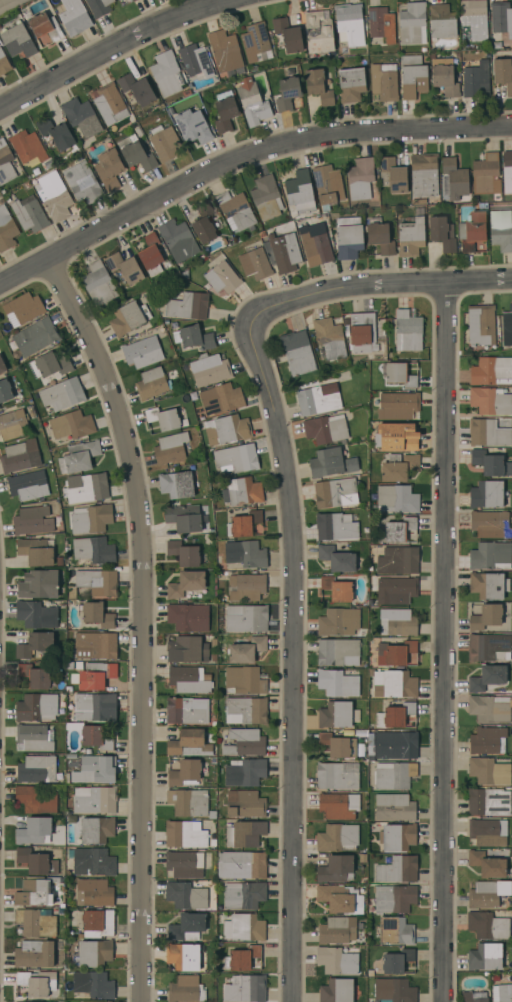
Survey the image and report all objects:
building: (134, 0)
building: (99, 7)
building: (74, 17)
building: (501, 18)
building: (473, 20)
building: (441, 21)
building: (349, 24)
building: (381, 24)
building: (412, 24)
building: (42, 27)
building: (318, 32)
building: (288, 35)
building: (18, 41)
building: (254, 41)
road: (116, 47)
building: (225, 50)
building: (195, 61)
building: (4, 63)
building: (165, 73)
building: (503, 73)
building: (412, 76)
building: (444, 77)
building: (476, 80)
building: (383, 82)
building: (351, 84)
building: (318, 87)
building: (137, 89)
building: (287, 93)
building: (252, 102)
building: (110, 104)
building: (224, 111)
building: (81, 117)
building: (192, 126)
building: (55, 133)
building: (164, 142)
building: (27, 146)
building: (136, 155)
road: (241, 161)
building: (5, 164)
building: (109, 169)
building: (507, 171)
building: (486, 174)
building: (392, 175)
building: (424, 175)
building: (455, 179)
building: (360, 180)
building: (82, 183)
building: (328, 185)
building: (300, 192)
building: (54, 196)
building: (266, 198)
building: (236, 210)
building: (29, 214)
building: (204, 223)
building: (6, 230)
building: (501, 230)
building: (472, 231)
building: (442, 233)
building: (379, 236)
building: (349, 237)
building: (411, 237)
building: (314, 239)
building: (178, 240)
building: (282, 252)
building: (150, 256)
building: (255, 264)
building: (124, 268)
building: (222, 278)
building: (97, 283)
road: (363, 286)
building: (186, 305)
building: (509, 307)
building: (22, 309)
building: (128, 318)
building: (481, 325)
building: (507, 329)
building: (407, 331)
building: (363, 335)
building: (35, 337)
building: (196, 338)
building: (329, 338)
building: (142, 352)
building: (297, 352)
building: (49, 365)
building: (2, 366)
building: (209, 370)
building: (491, 371)
building: (398, 375)
building: (151, 383)
building: (5, 391)
building: (62, 393)
building: (318, 398)
building: (220, 399)
building: (489, 401)
building: (397, 406)
building: (163, 418)
building: (13, 425)
building: (71, 425)
building: (326, 429)
building: (228, 430)
building: (487, 433)
building: (398, 437)
building: (170, 448)
building: (18, 457)
building: (78, 457)
building: (236, 459)
building: (331, 463)
building: (490, 463)
building: (398, 467)
building: (28, 485)
building: (176, 485)
building: (85, 488)
building: (242, 491)
building: (335, 493)
building: (486, 494)
building: (396, 499)
building: (91, 519)
building: (184, 519)
building: (32, 521)
building: (242, 524)
building: (490, 524)
building: (336, 526)
building: (398, 530)
building: (93, 550)
building: (36, 551)
building: (184, 554)
building: (245, 554)
building: (490, 556)
building: (336, 559)
building: (59, 561)
building: (397, 561)
building: (95, 583)
building: (185, 583)
building: (38, 584)
building: (488, 585)
building: (246, 587)
building: (336, 589)
building: (397, 590)
building: (36, 615)
building: (98, 615)
building: (188, 617)
building: (486, 617)
building: (246, 618)
building: (338, 622)
building: (397, 622)
road: (142, 623)
road: (446, 642)
building: (34, 644)
building: (213, 644)
building: (93, 646)
building: (488, 647)
building: (187, 649)
building: (246, 650)
building: (337, 652)
building: (394, 653)
building: (213, 656)
road: (290, 670)
building: (94, 676)
building: (32, 677)
building: (488, 678)
building: (187, 680)
building: (244, 681)
building: (338, 682)
building: (393, 683)
building: (36, 707)
building: (92, 707)
building: (489, 709)
building: (186, 710)
building: (245, 710)
building: (337, 715)
building: (394, 715)
building: (361, 734)
building: (33, 738)
building: (96, 738)
building: (487, 740)
building: (245, 743)
building: (189, 744)
building: (396, 745)
building: (338, 746)
building: (82, 768)
building: (36, 769)
building: (99, 770)
building: (488, 771)
building: (244, 772)
building: (186, 773)
building: (393, 775)
building: (336, 776)
building: (34, 800)
building: (94, 800)
building: (188, 802)
building: (488, 802)
building: (244, 804)
building: (338, 806)
building: (394, 807)
building: (211, 814)
building: (96, 830)
building: (33, 831)
building: (486, 832)
building: (184, 834)
building: (244, 834)
building: (398, 837)
building: (337, 838)
building: (362, 858)
building: (36, 862)
building: (93, 862)
building: (184, 864)
building: (486, 864)
building: (241, 865)
building: (335, 869)
building: (397, 870)
building: (511, 875)
building: (31, 893)
building: (93, 893)
building: (487, 894)
building: (187, 895)
building: (243, 895)
building: (393, 898)
building: (340, 899)
building: (36, 922)
building: (97, 923)
building: (487, 925)
building: (186, 927)
building: (244, 928)
building: (337, 930)
building: (394, 931)
building: (33, 954)
building: (92, 954)
building: (182, 956)
building: (484, 957)
building: (241, 958)
building: (337, 960)
building: (396, 961)
building: (362, 973)
building: (370, 973)
building: (37, 983)
building: (93, 984)
building: (185, 989)
building: (245, 990)
building: (394, 990)
building: (336, 991)
building: (504, 993)
building: (473, 997)

